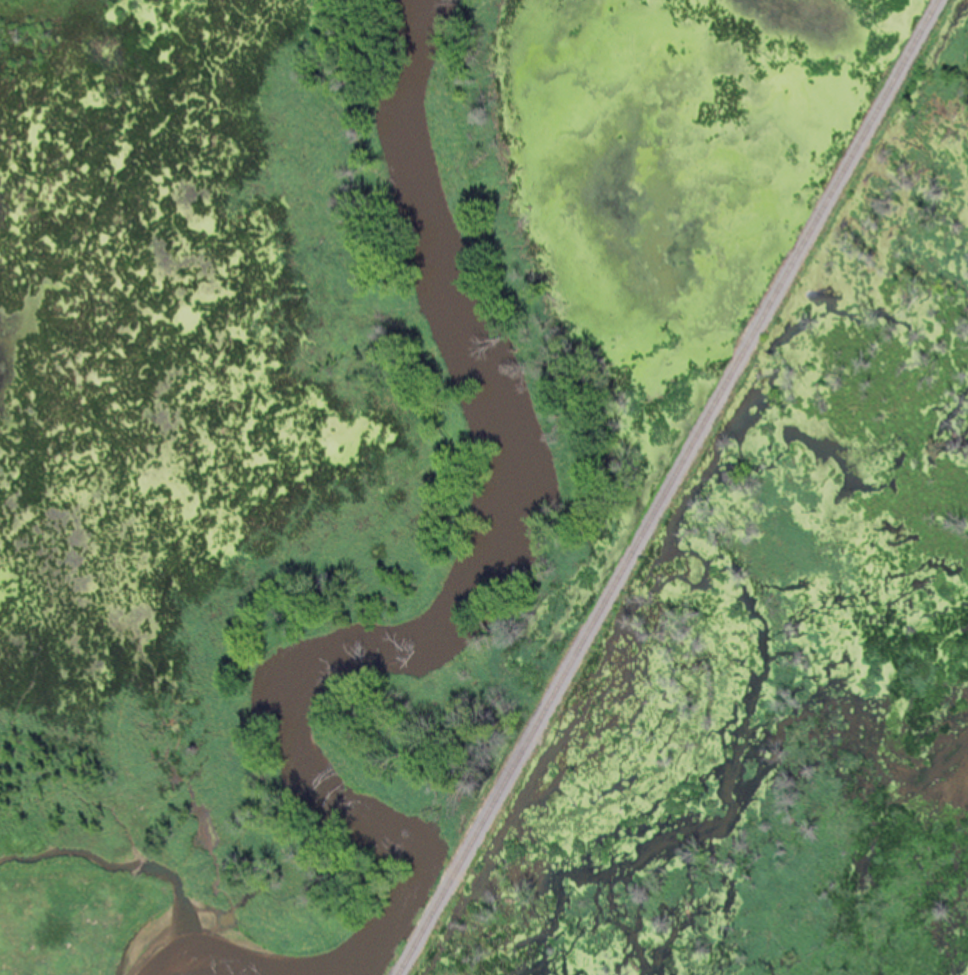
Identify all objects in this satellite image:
railway: (649, 487)
river: (400, 626)

